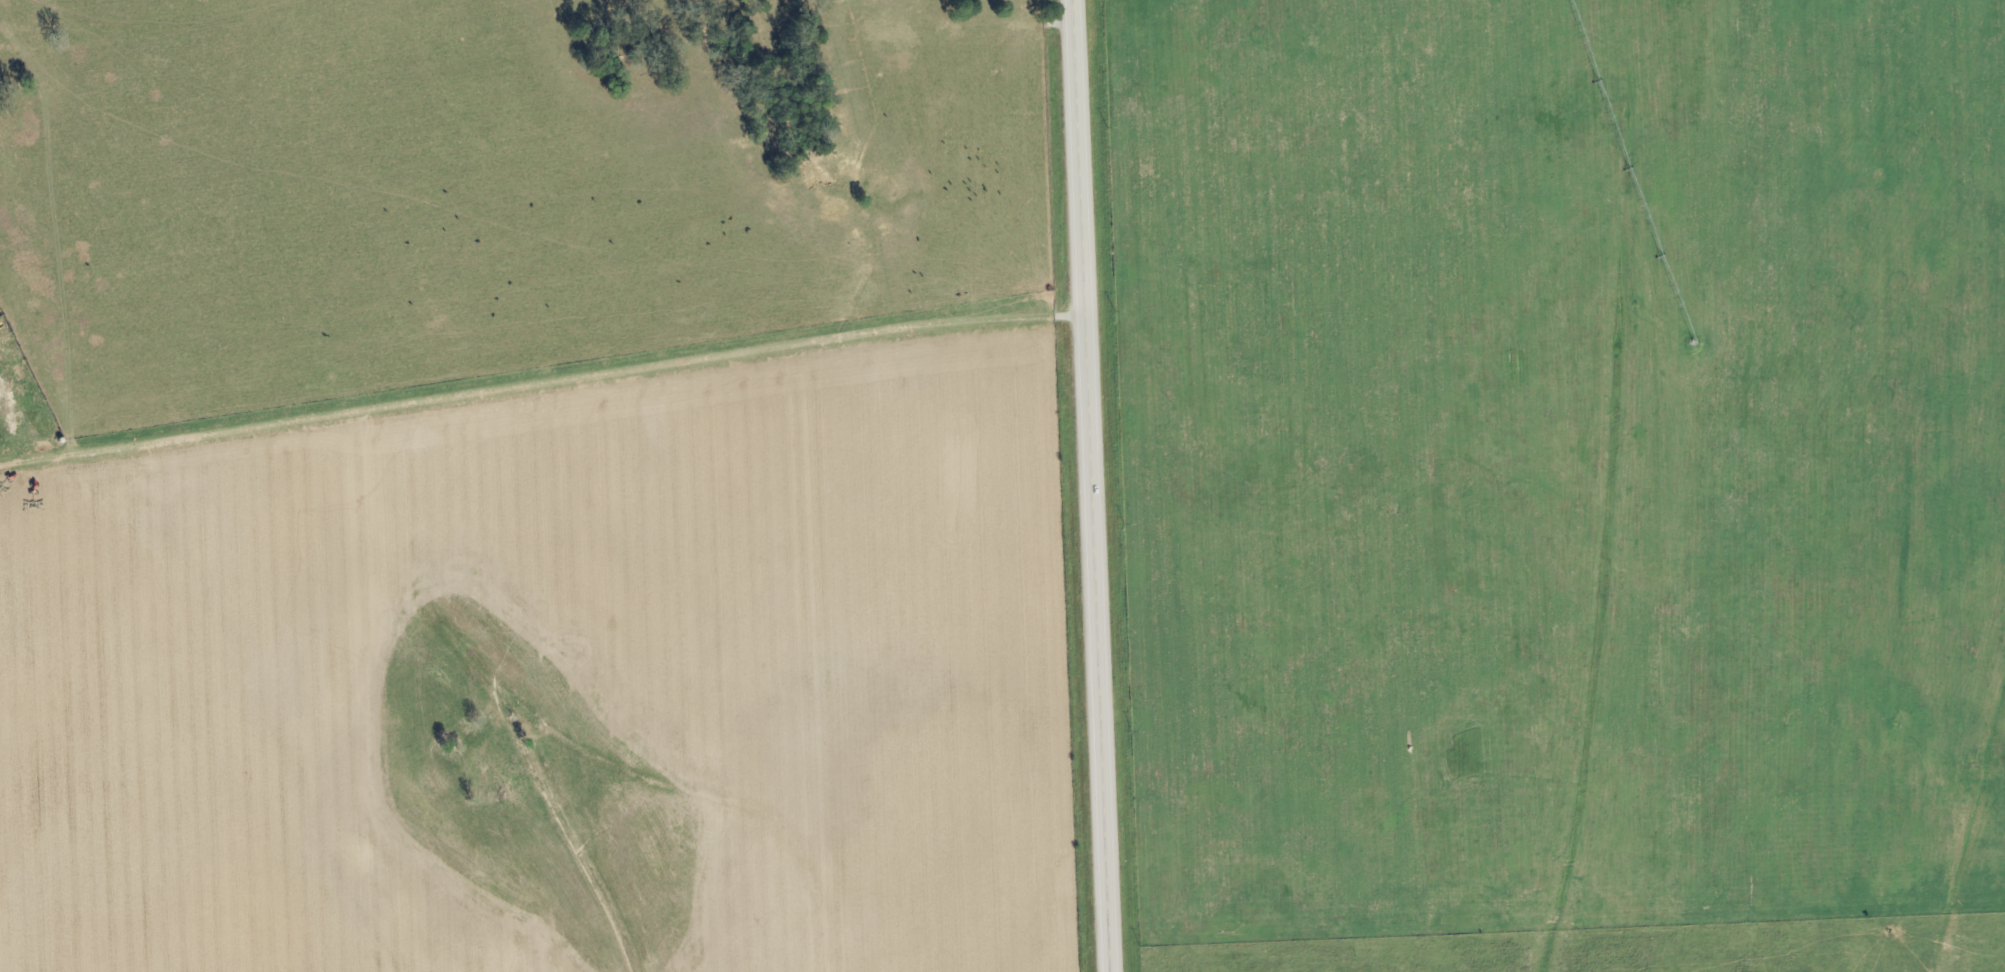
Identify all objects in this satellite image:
road: (1091, 485)

